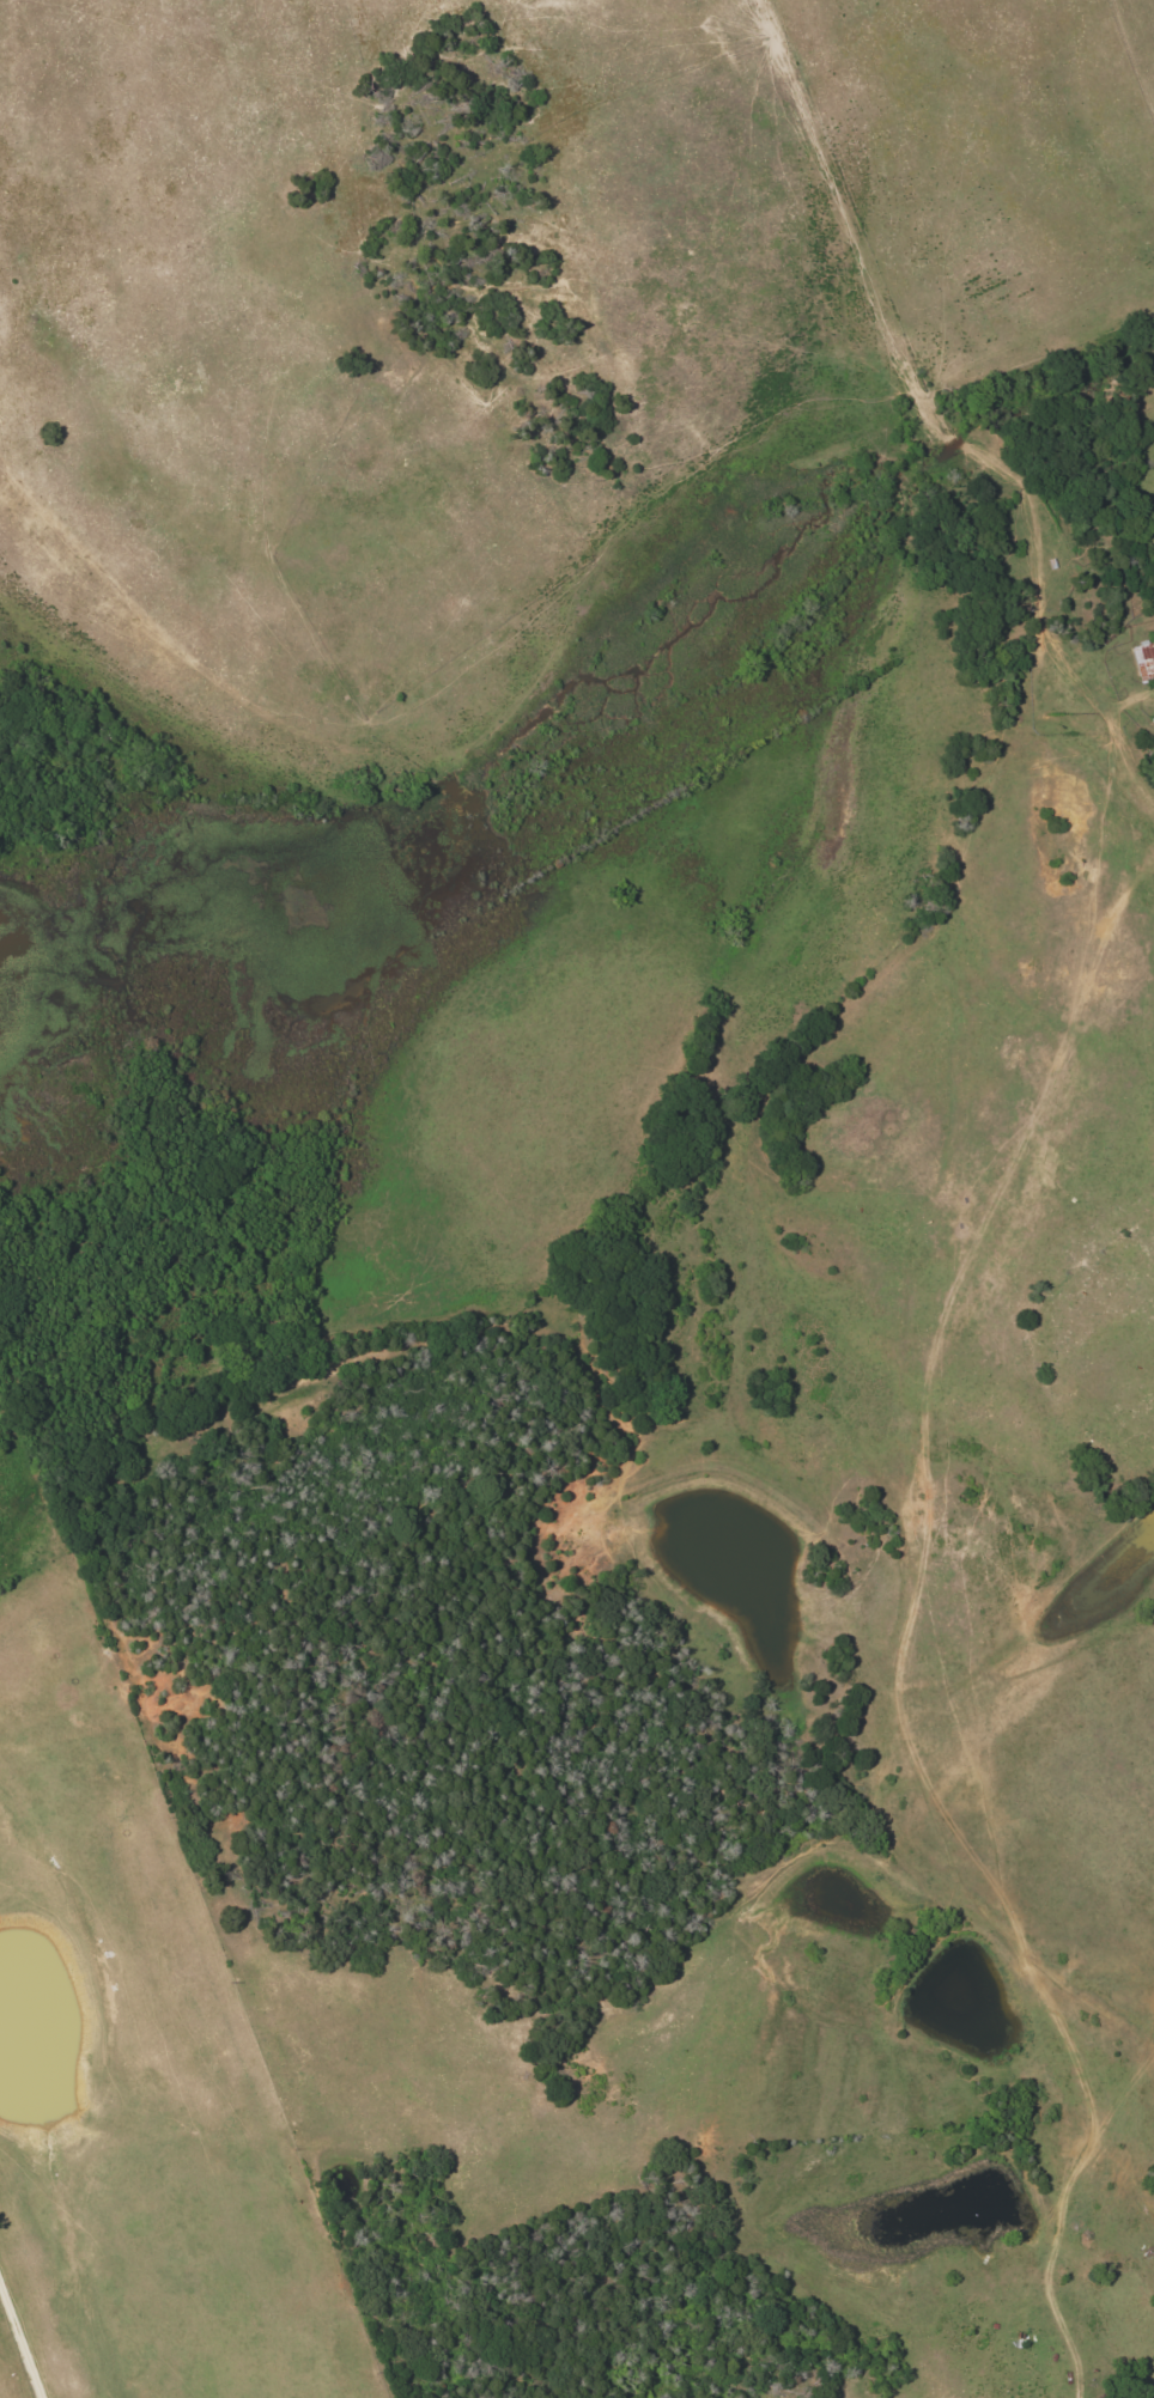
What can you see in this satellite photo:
road: (19, 2344)

